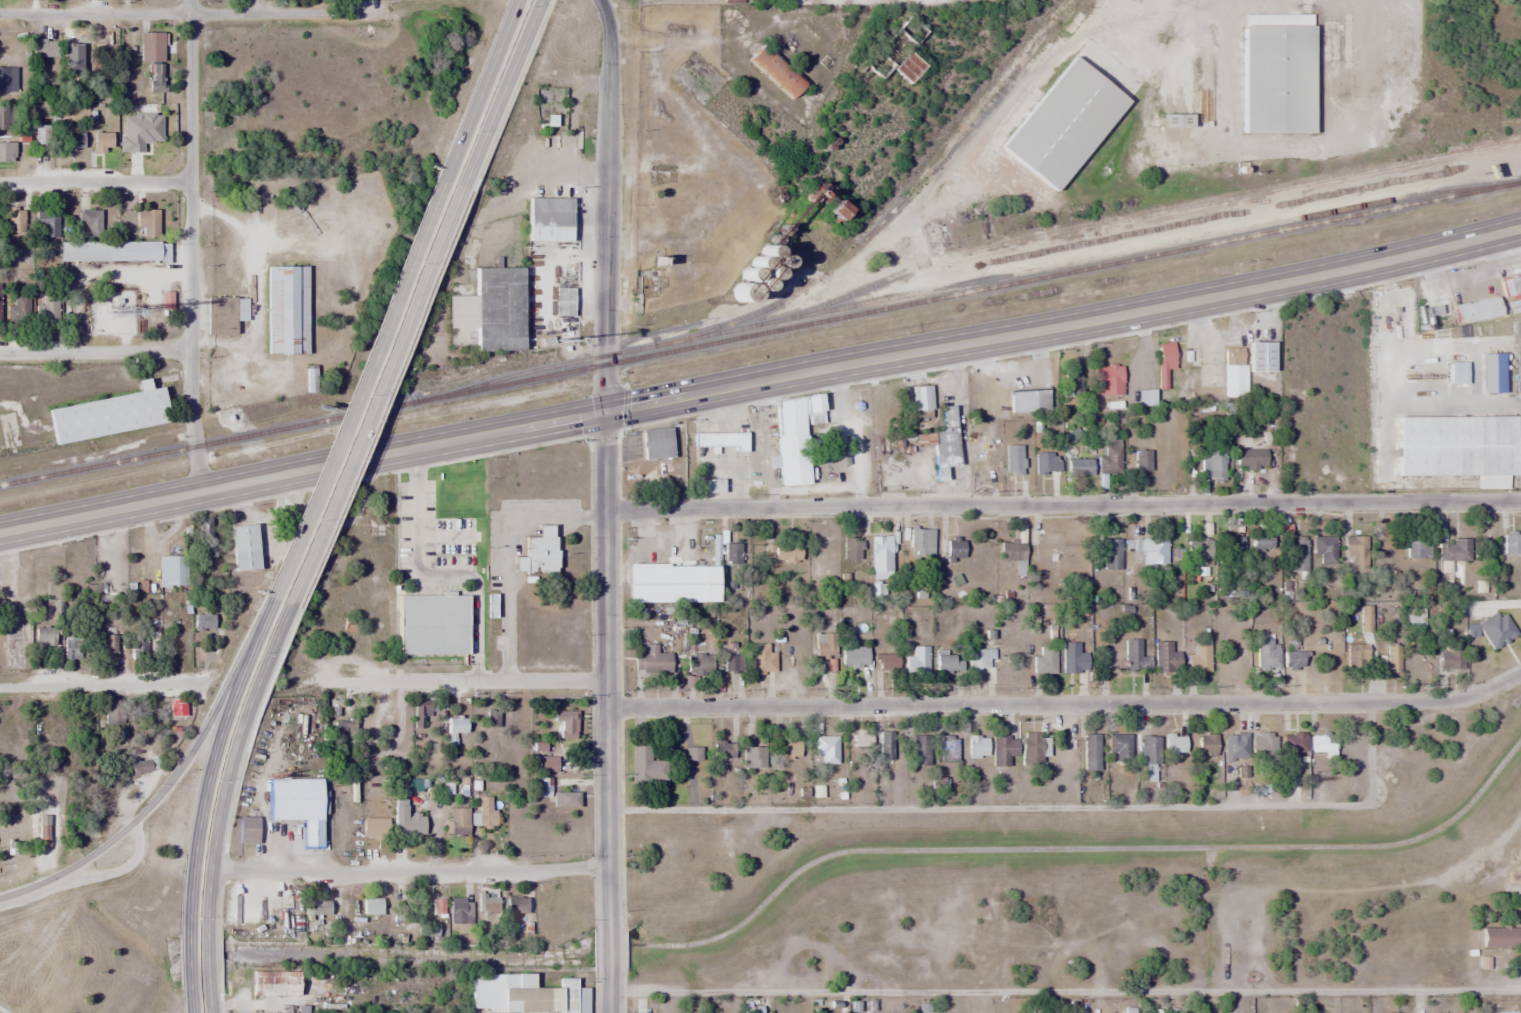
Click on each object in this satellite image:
road: (187, 13)
building: (154, 46)
building: (43, 48)
building: (72, 54)
building: (1276, 73)
building: (159, 75)
building: (7, 79)
road: (492, 92)
building: (5, 118)
building: (1063, 123)
building: (40, 135)
building: (73, 140)
building: (102, 142)
building: (5, 152)
road: (96, 181)
building: (548, 219)
building: (15, 220)
building: (147, 222)
building: (46, 223)
building: (90, 223)
road: (192, 245)
building: (114, 251)
building: (17, 307)
building: (113, 308)
building: (46, 309)
building: (240, 309)
building: (286, 309)
building: (490, 309)
building: (1475, 310)
railway: (759, 328)
road: (96, 351)
building: (1260, 356)
building: (1233, 373)
building: (1109, 379)
road: (761, 382)
building: (1071, 383)
road: (367, 393)
building: (1029, 401)
building: (921, 402)
traffic signals: (604, 412)
building: (108, 414)
building: (793, 429)
building: (720, 440)
building: (656, 443)
building: (945, 443)
building: (1456, 447)
building: (1110, 458)
building: (1250, 458)
road: (604, 460)
building: (1013, 460)
building: (1141, 460)
building: (1043, 464)
building: (1213, 464)
building: (1079, 467)
road: (1063, 505)
building: (205, 528)
building: (243, 537)
building: (1045, 539)
building: (921, 541)
building: (1262, 541)
building: (1512, 542)
building: (1417, 545)
building: (851, 548)
building: (954, 548)
building: (1012, 549)
building: (1200, 549)
building: (1228, 549)
building: (1325, 549)
building: (1454, 550)
building: (1155, 551)
building: (537, 552)
building: (782, 552)
building: (1356, 552)
building: (1109, 553)
building: (1297, 554)
building: (881, 557)
building: (173, 571)
building: (1456, 575)
building: (680, 578)
building: (1415, 618)
building: (204, 622)
building: (429, 625)
road: (268, 632)
building: (44, 636)
building: (823, 645)
building: (109, 646)
building: (73, 647)
building: (1266, 654)
building: (854, 657)
building: (1134, 657)
building: (1356, 657)
building: (1450, 657)
building: (1073, 658)
building: (1166, 659)
building: (1199, 659)
building: (1393, 659)
building: (653, 660)
building: (762, 660)
building: (977, 660)
building: (1294, 660)
building: (917, 661)
building: (1045, 661)
building: (887, 663)
building: (712, 664)
building: (948, 664)
road: (465, 682)
road: (101, 684)
road: (1066, 703)
building: (422, 709)
building: (566, 723)
building: (862, 739)
building: (1293, 743)
building: (1321, 743)
building: (1206, 744)
building: (886, 745)
building: (1174, 745)
building: (977, 746)
building: (1235, 746)
building: (1263, 746)
building: (1031, 747)
building: (1119, 747)
building: (827, 748)
building: (948, 748)
building: (789, 749)
building: (919, 749)
building: (1003, 749)
building: (1149, 749)
building: (723, 750)
building: (1091, 751)
building: (693, 753)
building: (752, 753)
building: (547, 763)
building: (647, 766)
road: (168, 782)
building: (544, 786)
building: (565, 799)
building: (297, 804)
building: (486, 811)
building: (414, 824)
building: (374, 827)
building: (456, 827)
road: (208, 833)
building: (1520, 839)
road: (113, 868)
road: (406, 871)
road: (26, 889)
building: (490, 903)
building: (515, 904)
building: (318, 906)
building: (371, 906)
building: (460, 909)
building: (402, 912)
building: (1501, 936)
road: (609, 947)
building: (273, 982)
road: (1065, 990)
road: (609, 991)
building: (527, 995)

